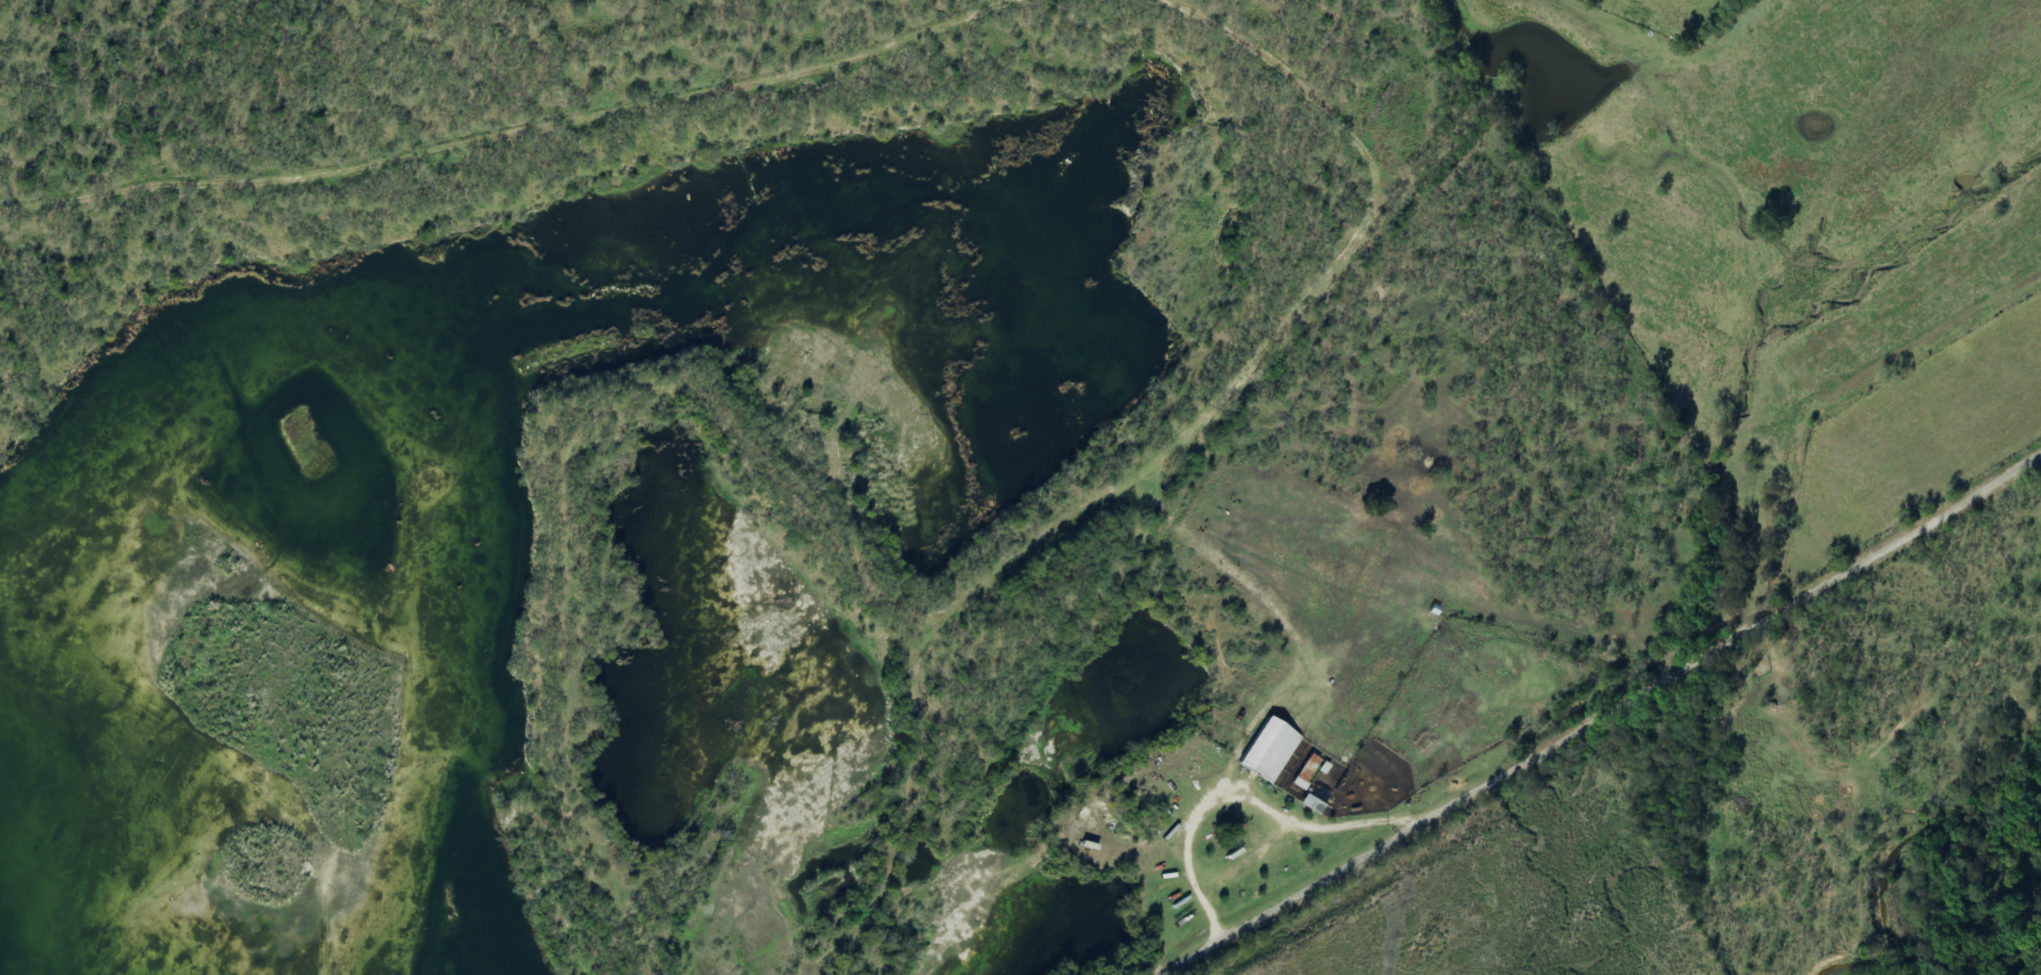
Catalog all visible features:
road: (1619, 727)

